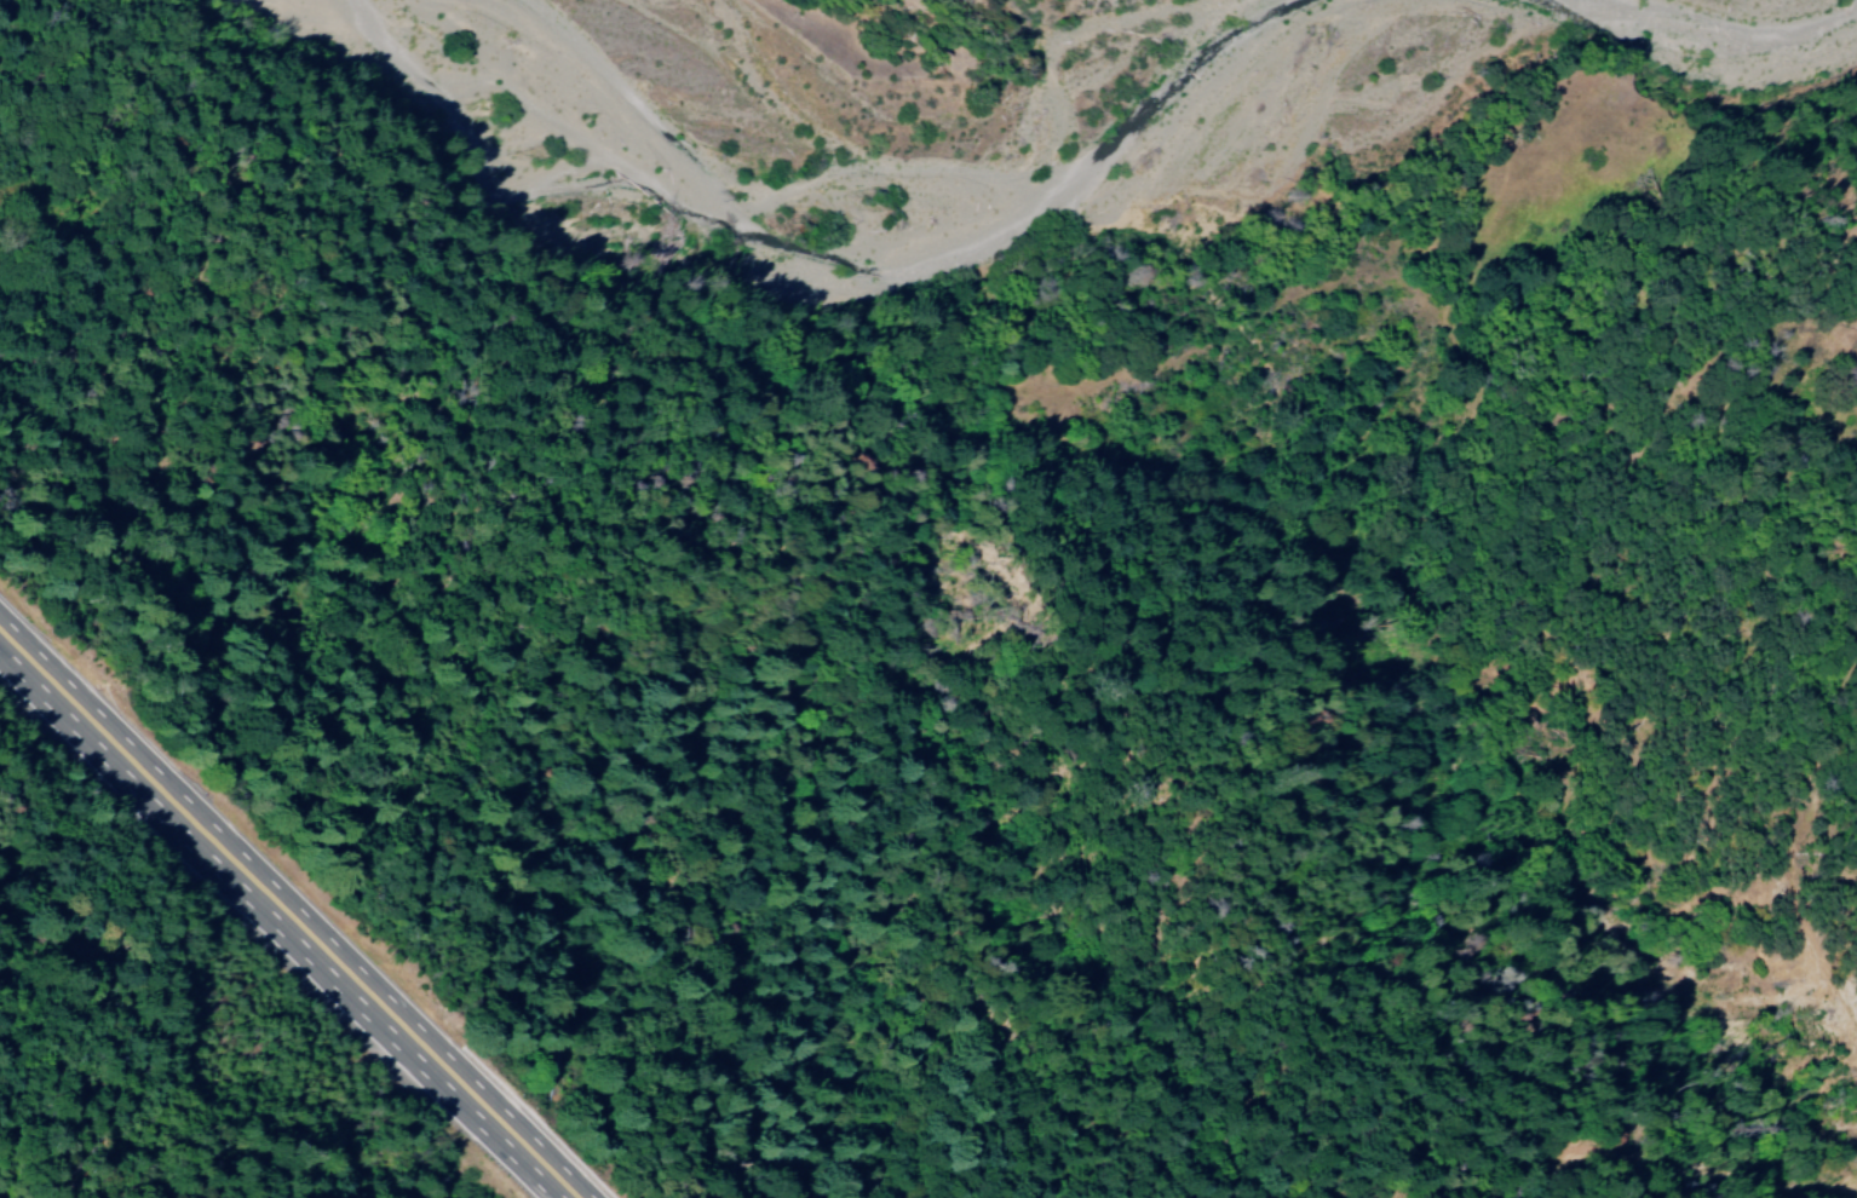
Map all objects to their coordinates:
road: (287, 915)

